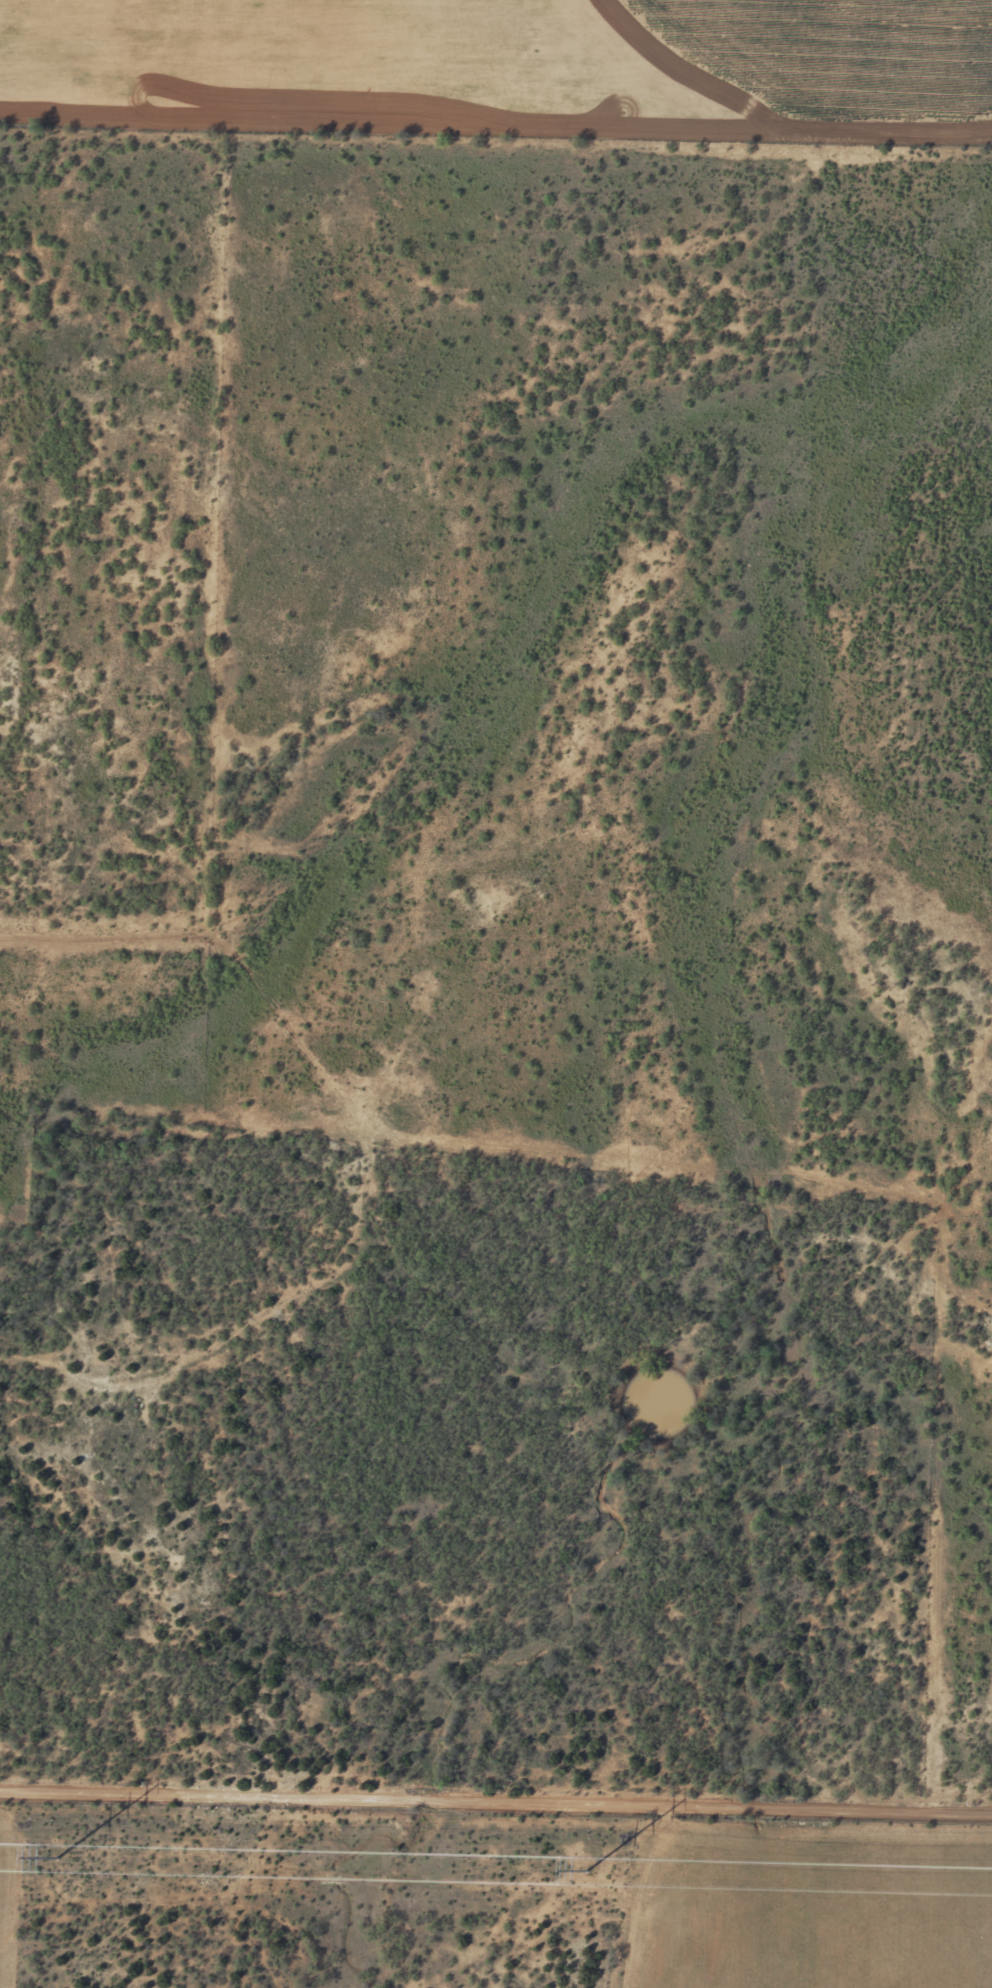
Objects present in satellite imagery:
road: (268, 1319)
road: (496, 1801)
power tower: (57, 1855)
power tower: (587, 1868)

